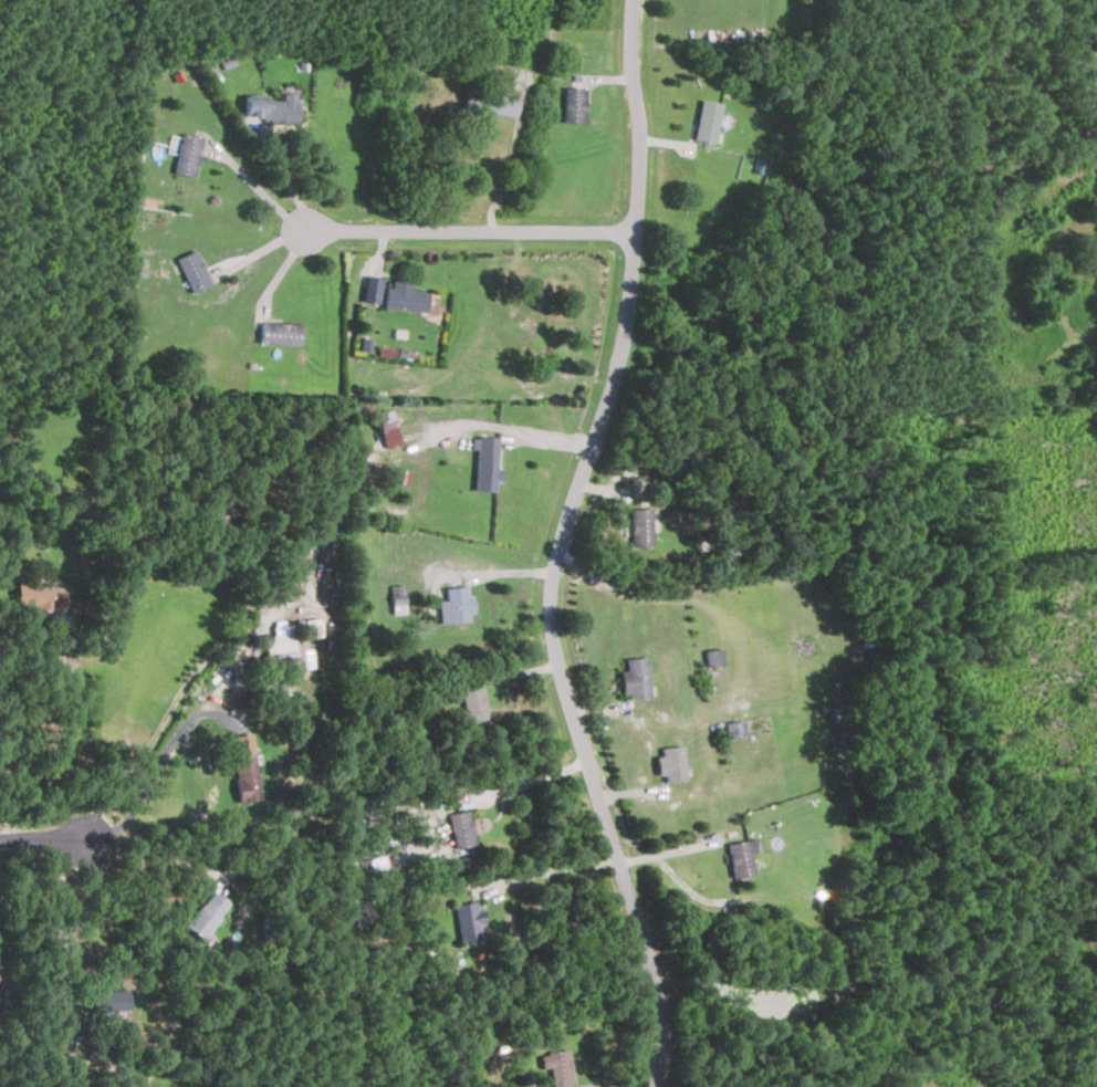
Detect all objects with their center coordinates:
building: (490, 101)
building: (575, 104)
building: (271, 107)
building: (707, 119)
building: (187, 154)
road: (514, 166)
road: (257, 186)
road: (468, 234)
building: (135, 269)
building: (192, 270)
building: (404, 295)
building: (280, 332)
building: (386, 428)
building: (483, 469)
building: (401, 475)
building: (216, 518)
building: (638, 527)
road: (561, 546)
building: (36, 597)
building: (396, 599)
building: (456, 605)
building: (311, 627)
building: (284, 649)
building: (711, 657)
building: (633, 678)
building: (471, 702)
road: (158, 725)
building: (732, 729)
road: (51, 739)
building: (668, 763)
road: (160, 764)
building: (243, 777)
building: (459, 828)
road: (45, 839)
building: (736, 858)
road: (156, 859)
road: (551, 870)
building: (200, 914)
building: (467, 920)
road: (63, 924)
building: (104, 1001)
building: (555, 1067)

